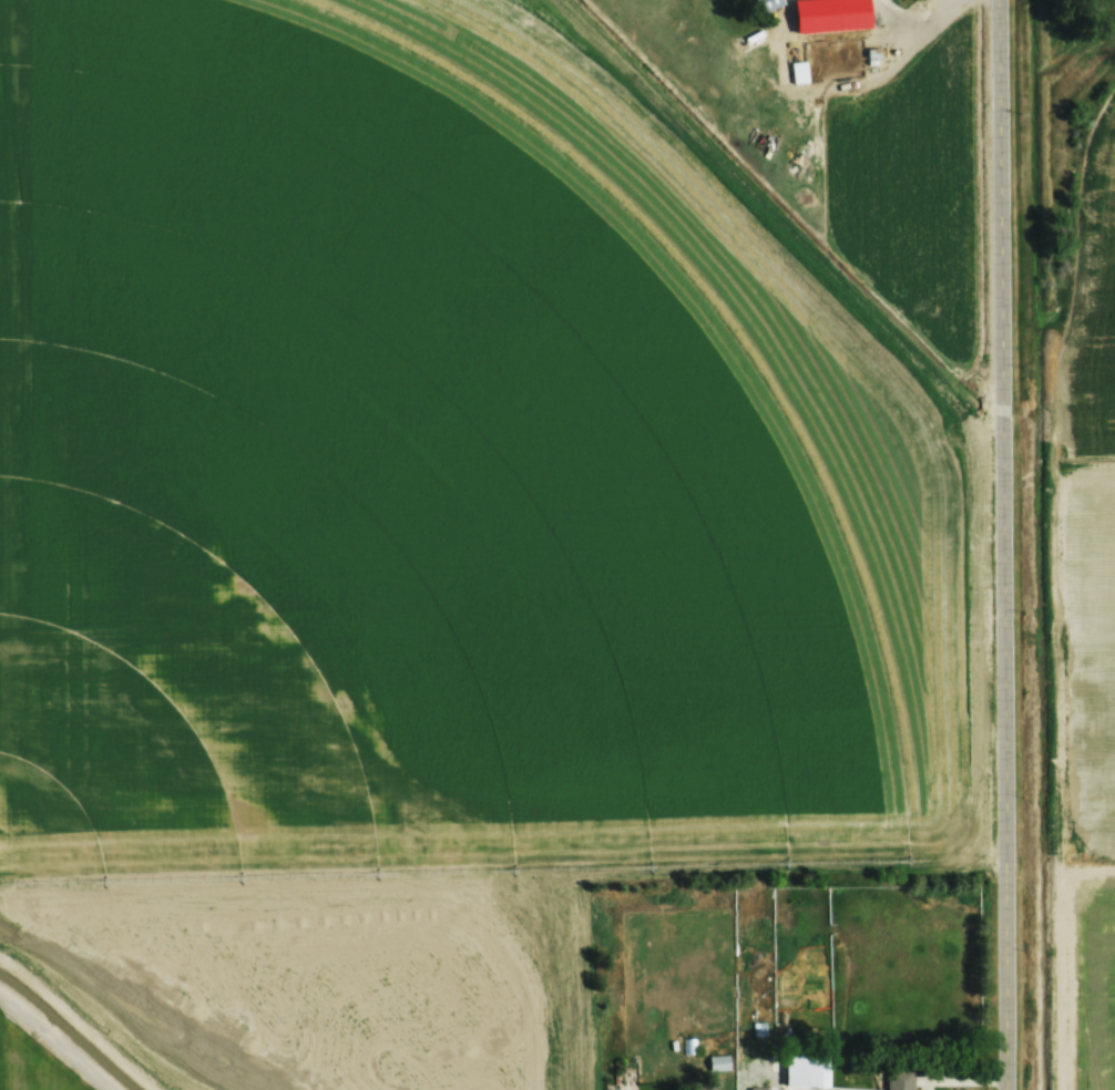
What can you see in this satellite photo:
building: (768, 4)
building: (855, 4)
road: (919, 20)
building: (734, 58)
road: (1005, 544)
road: (58, 1039)
building: (817, 1070)
building: (900, 1078)

